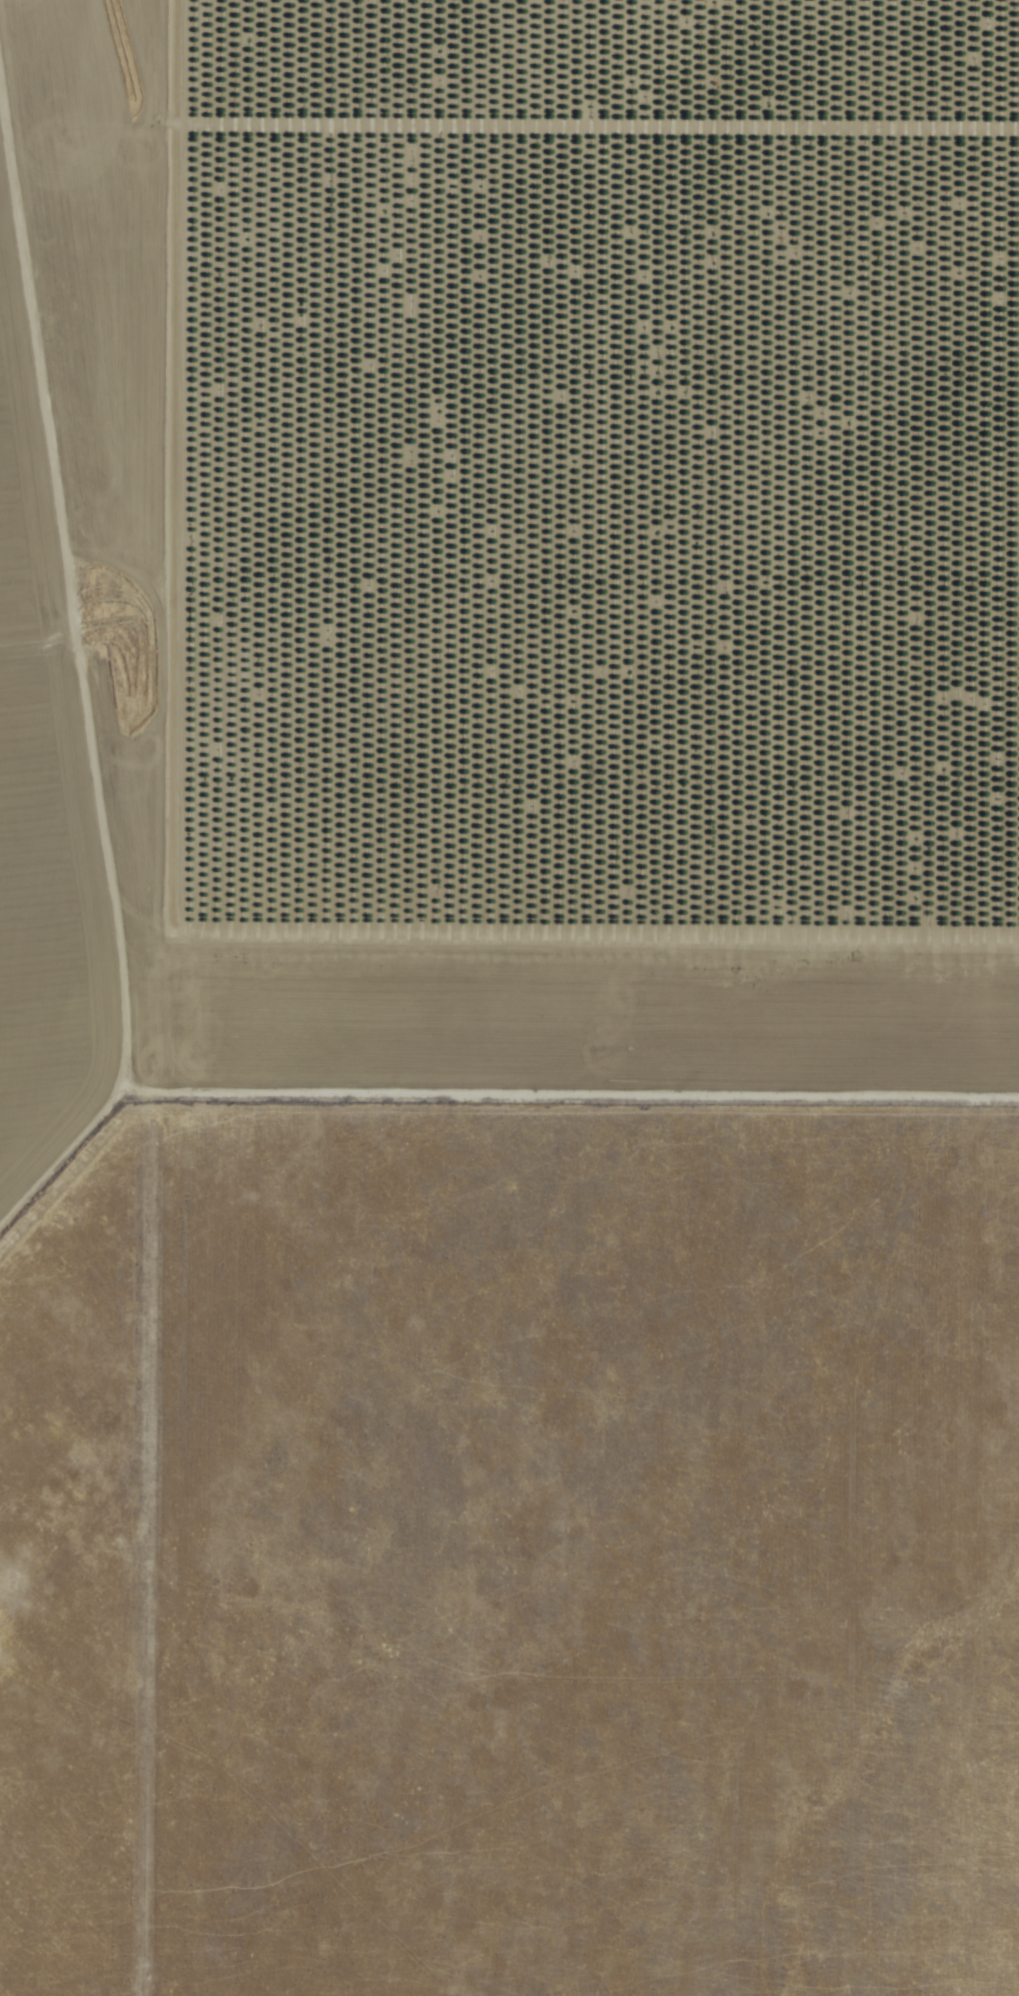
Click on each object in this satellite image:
crop: (548, 502)
road: (162, 1038)

